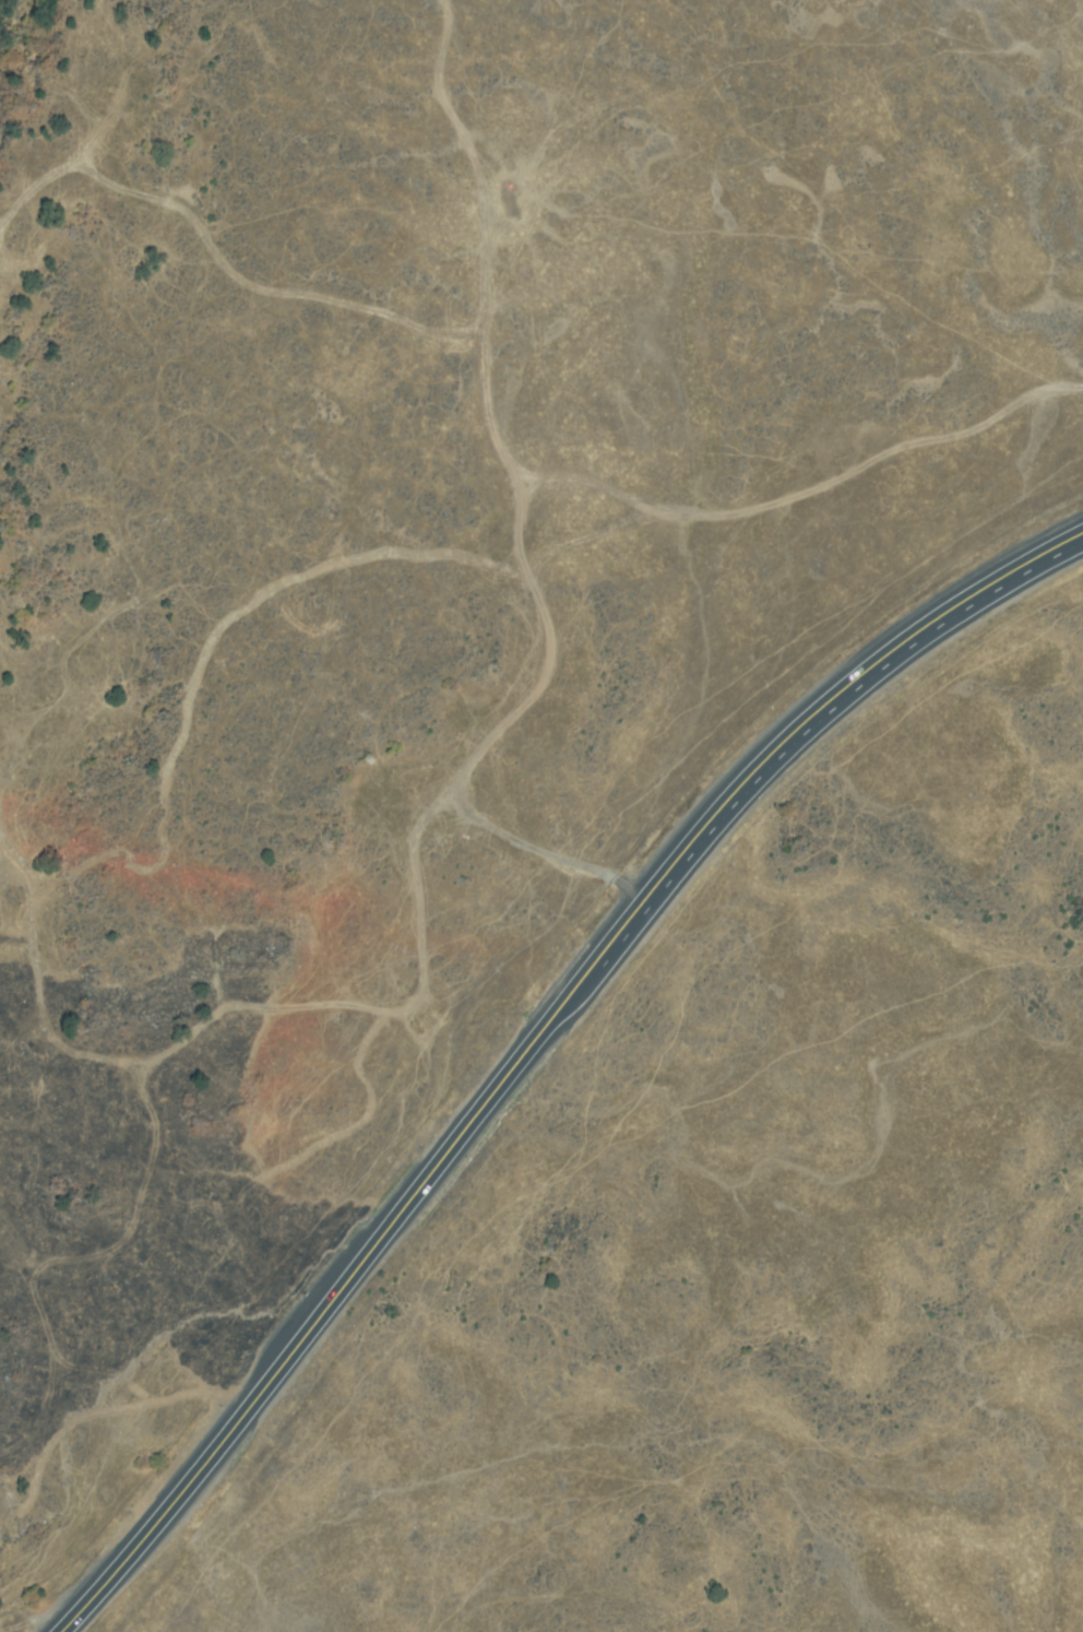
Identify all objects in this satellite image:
road: (814, 720)
road: (331, 1299)

